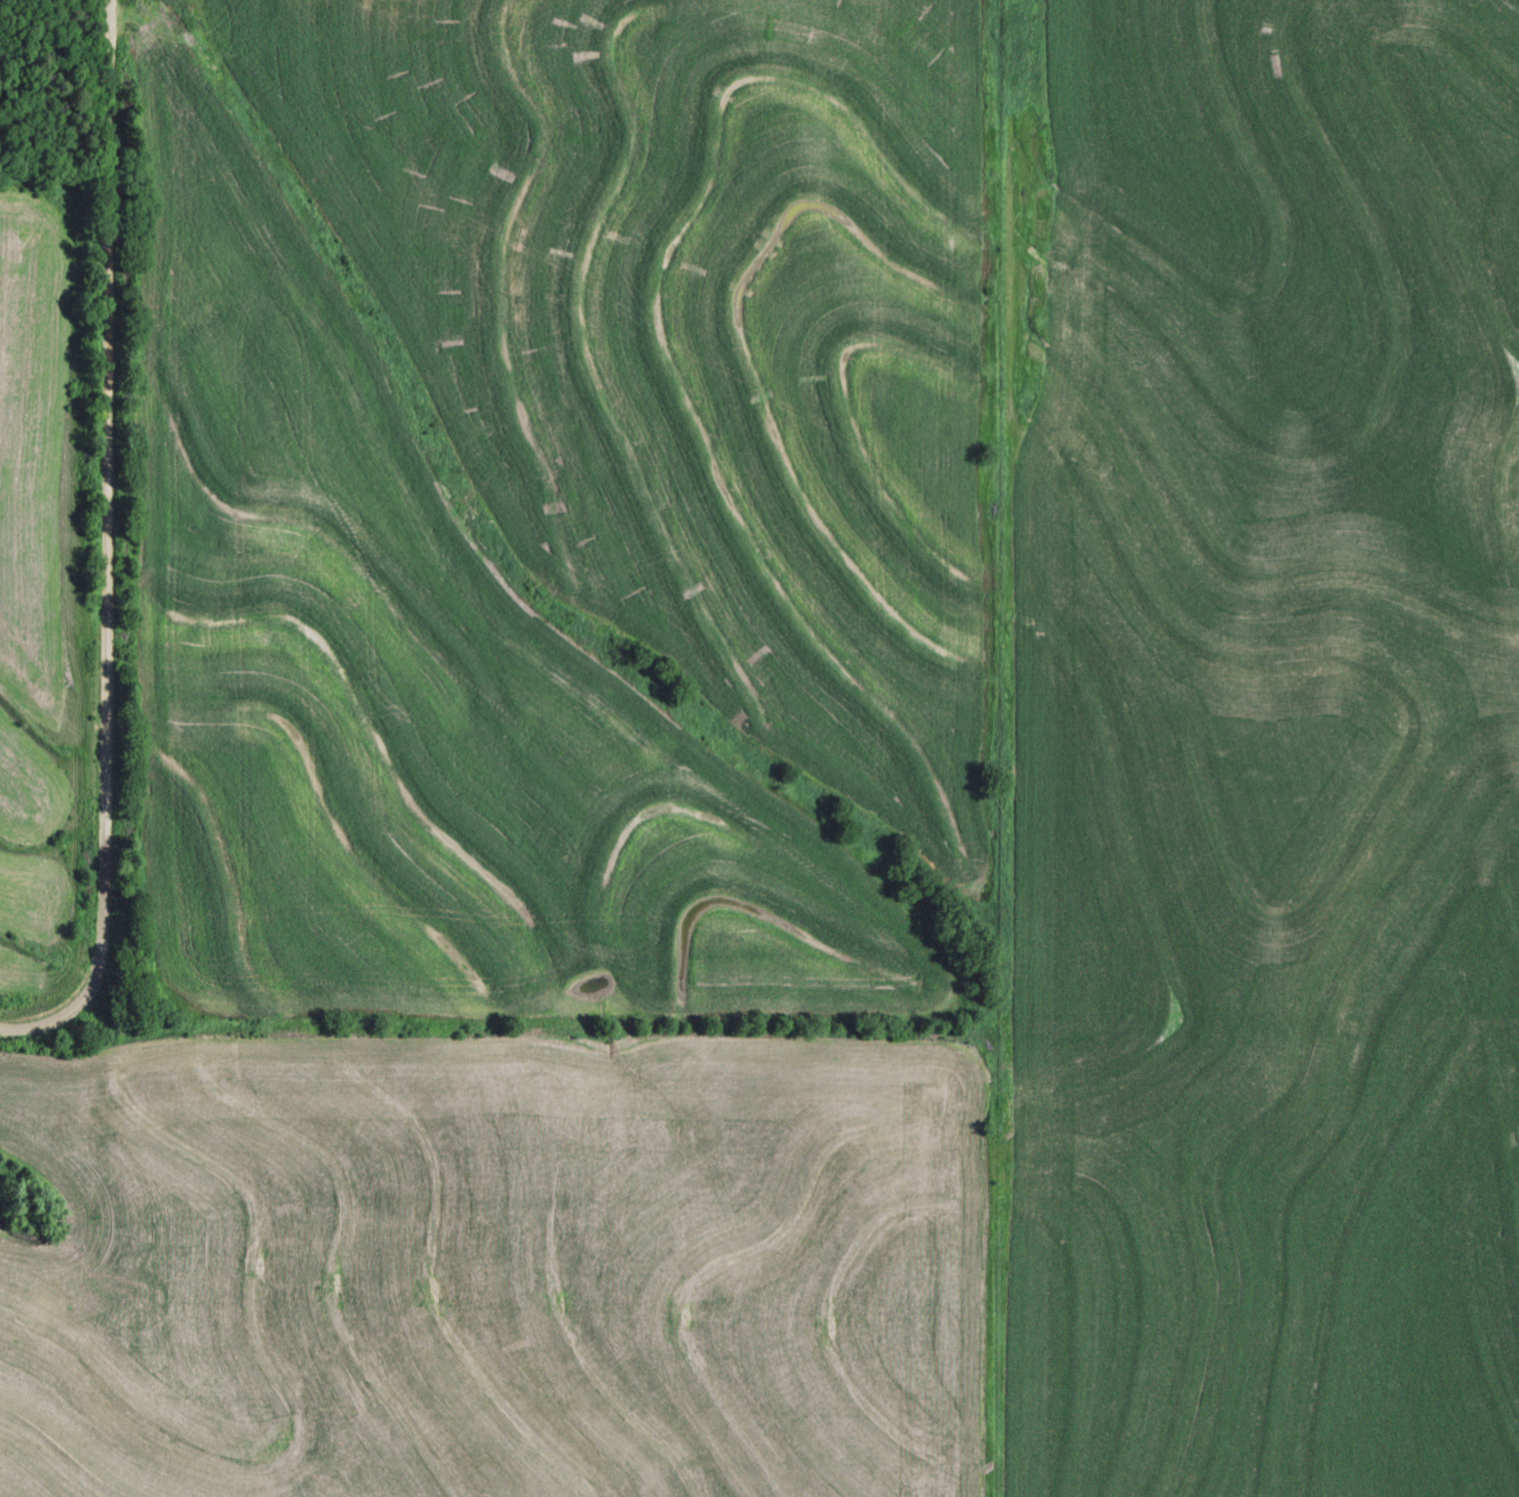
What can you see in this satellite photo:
road: (106, 505)
road: (41, 1023)

